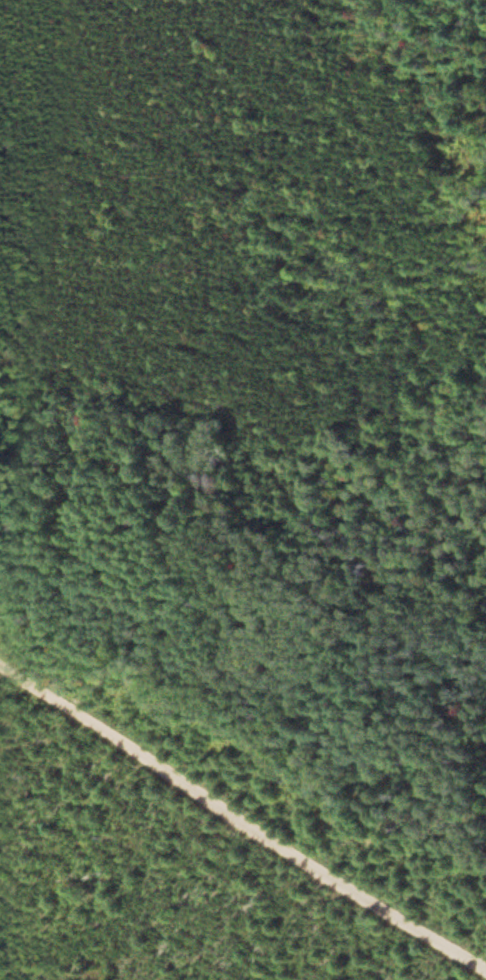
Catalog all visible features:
road: (238, 817)

